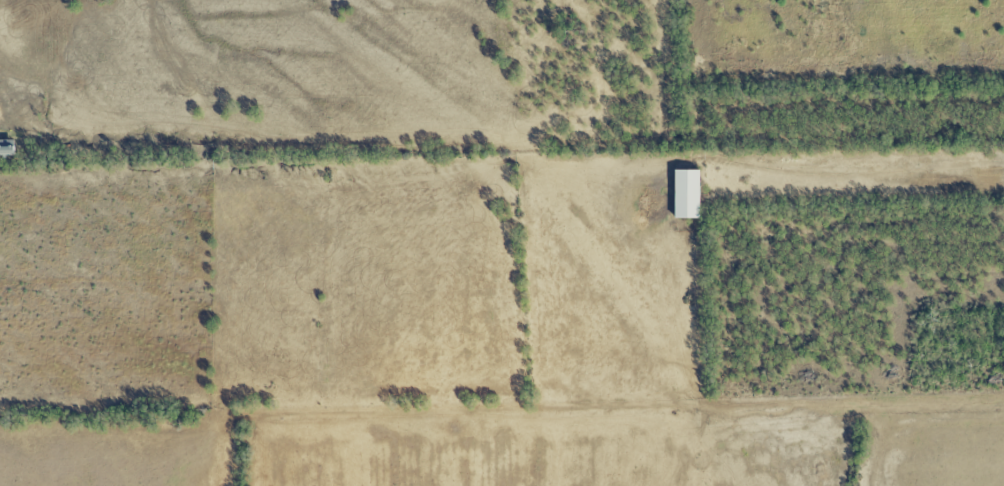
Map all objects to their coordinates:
building: (684, 195)

